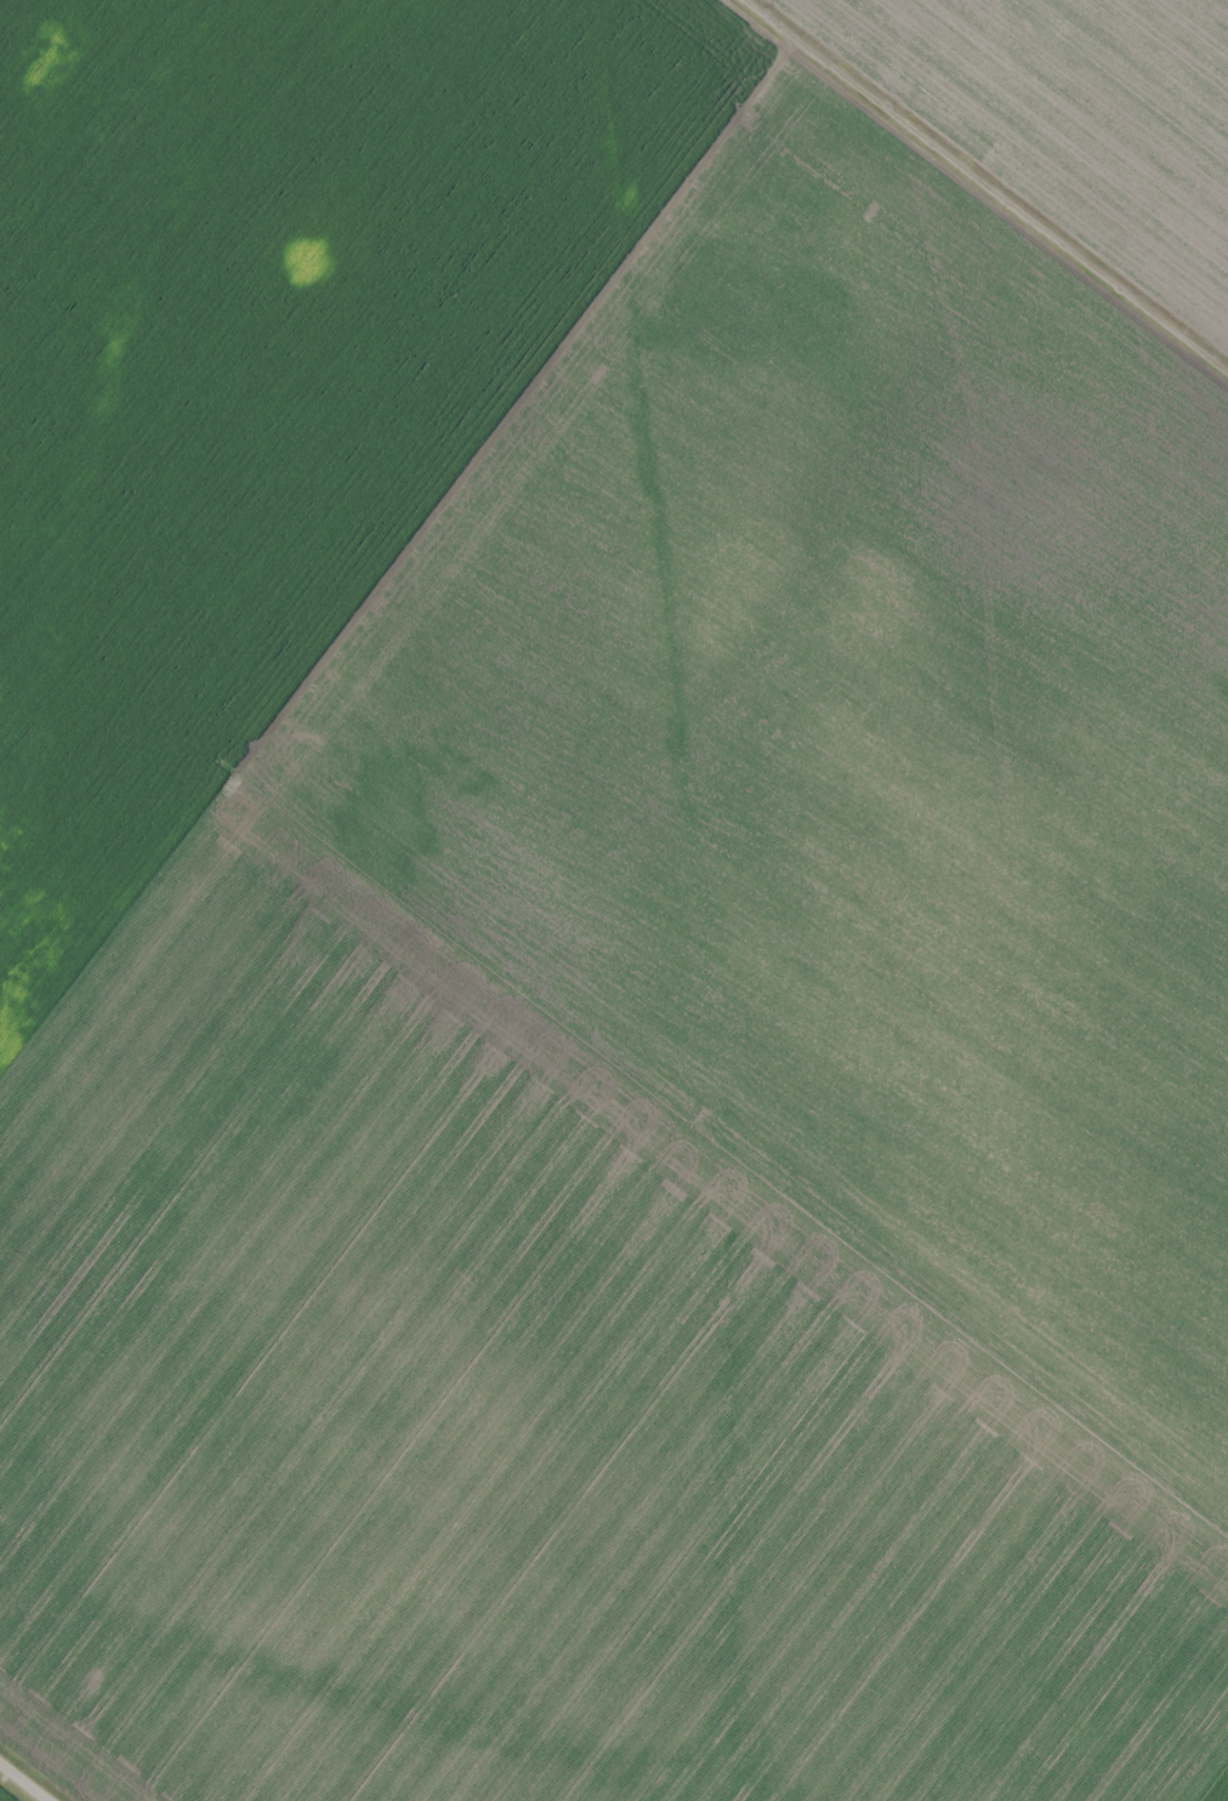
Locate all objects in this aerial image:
road: (984, 186)
road: (23, 1783)

